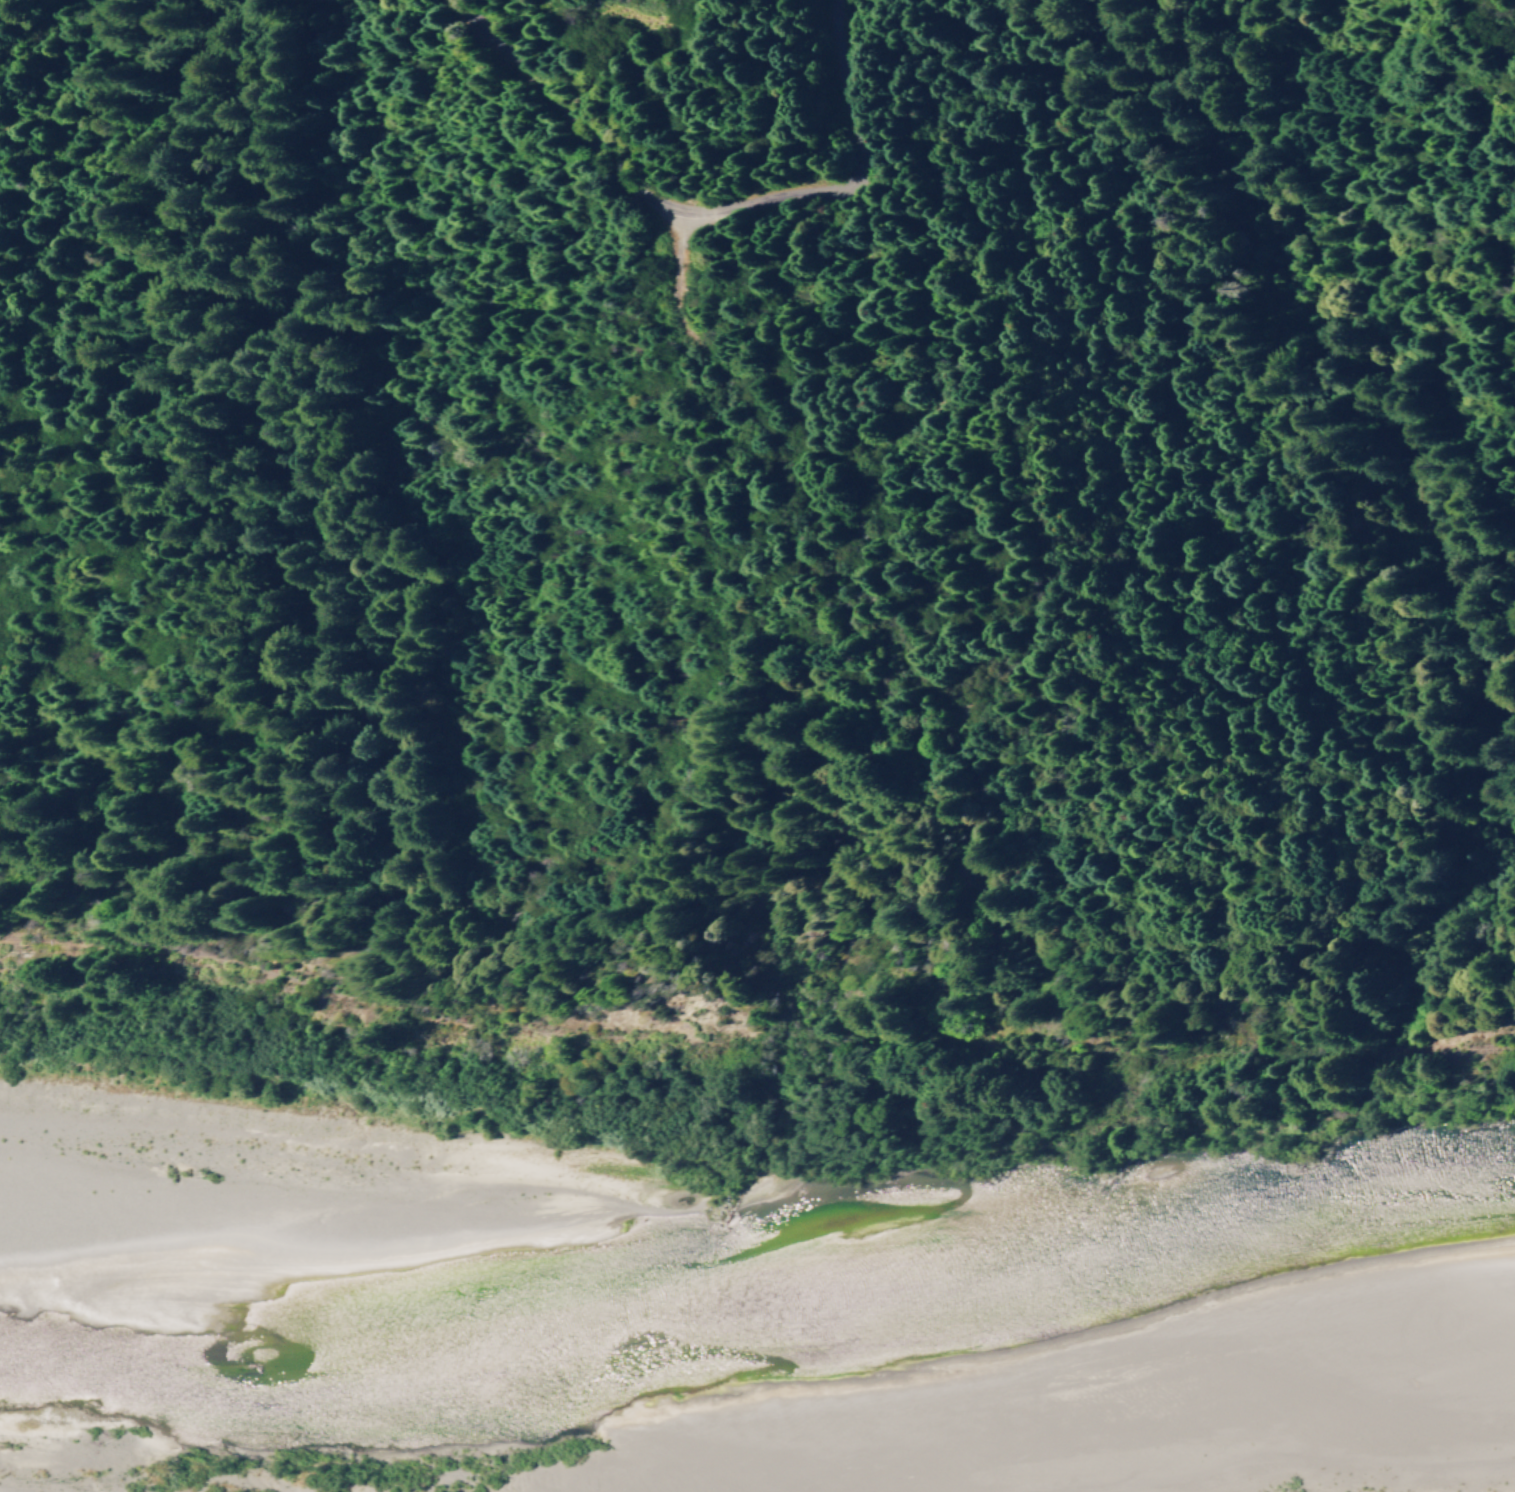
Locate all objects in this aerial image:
road: (1492, 22)
road: (737, 207)
railway: (750, 1034)
river: (1444, 1246)
river: (624, 1316)

